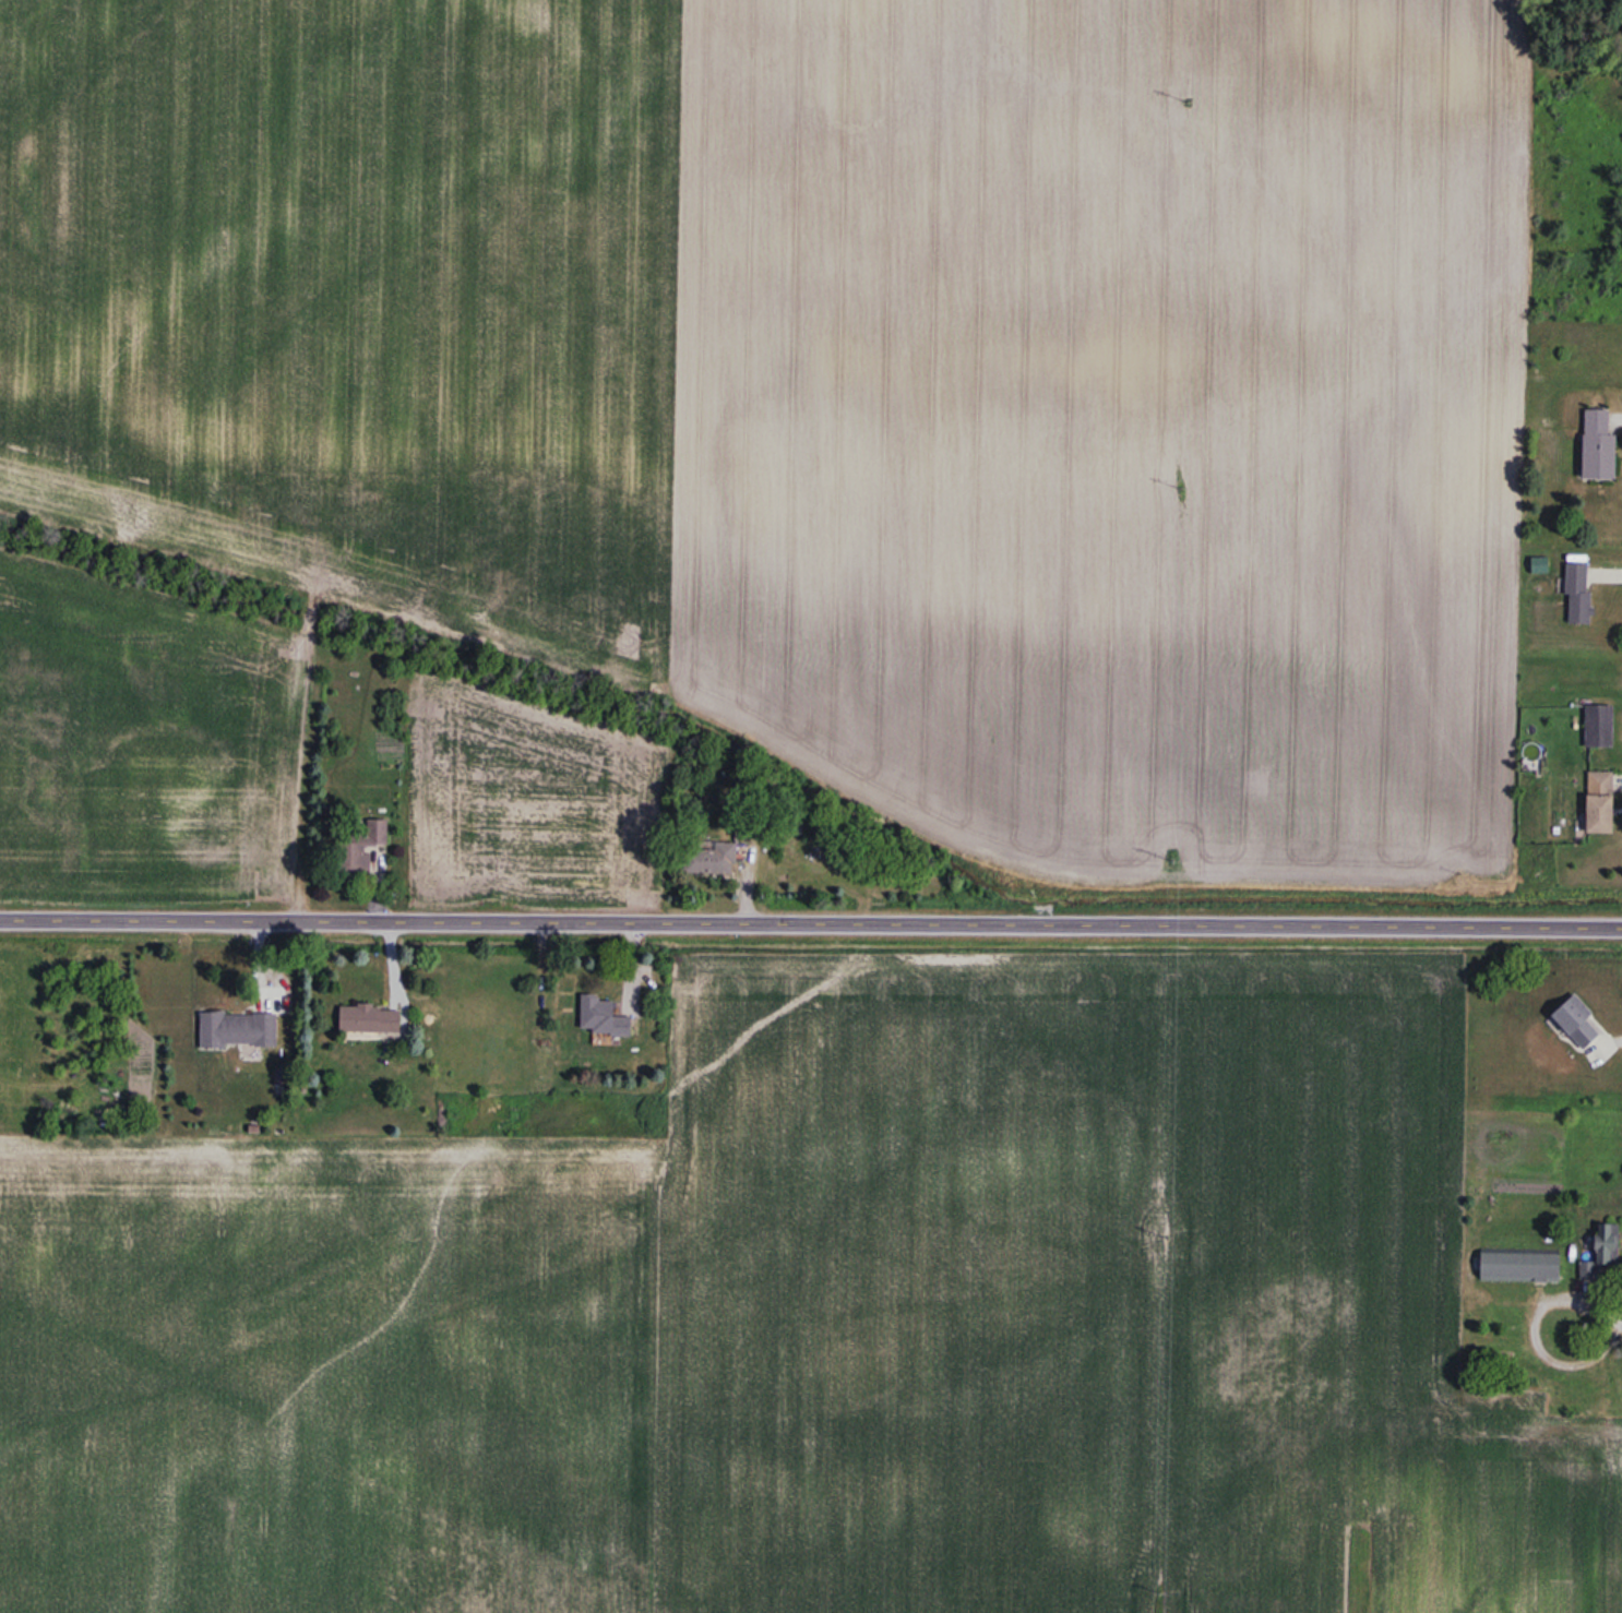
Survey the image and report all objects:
building: (1599, 445)
building: (1578, 592)
building: (1599, 725)
building: (1601, 801)
building: (361, 846)
building: (711, 859)
road: (811, 920)
building: (603, 1015)
building: (370, 1018)
building: (1577, 1020)
building: (238, 1029)
building: (1606, 1243)
building: (1520, 1264)

